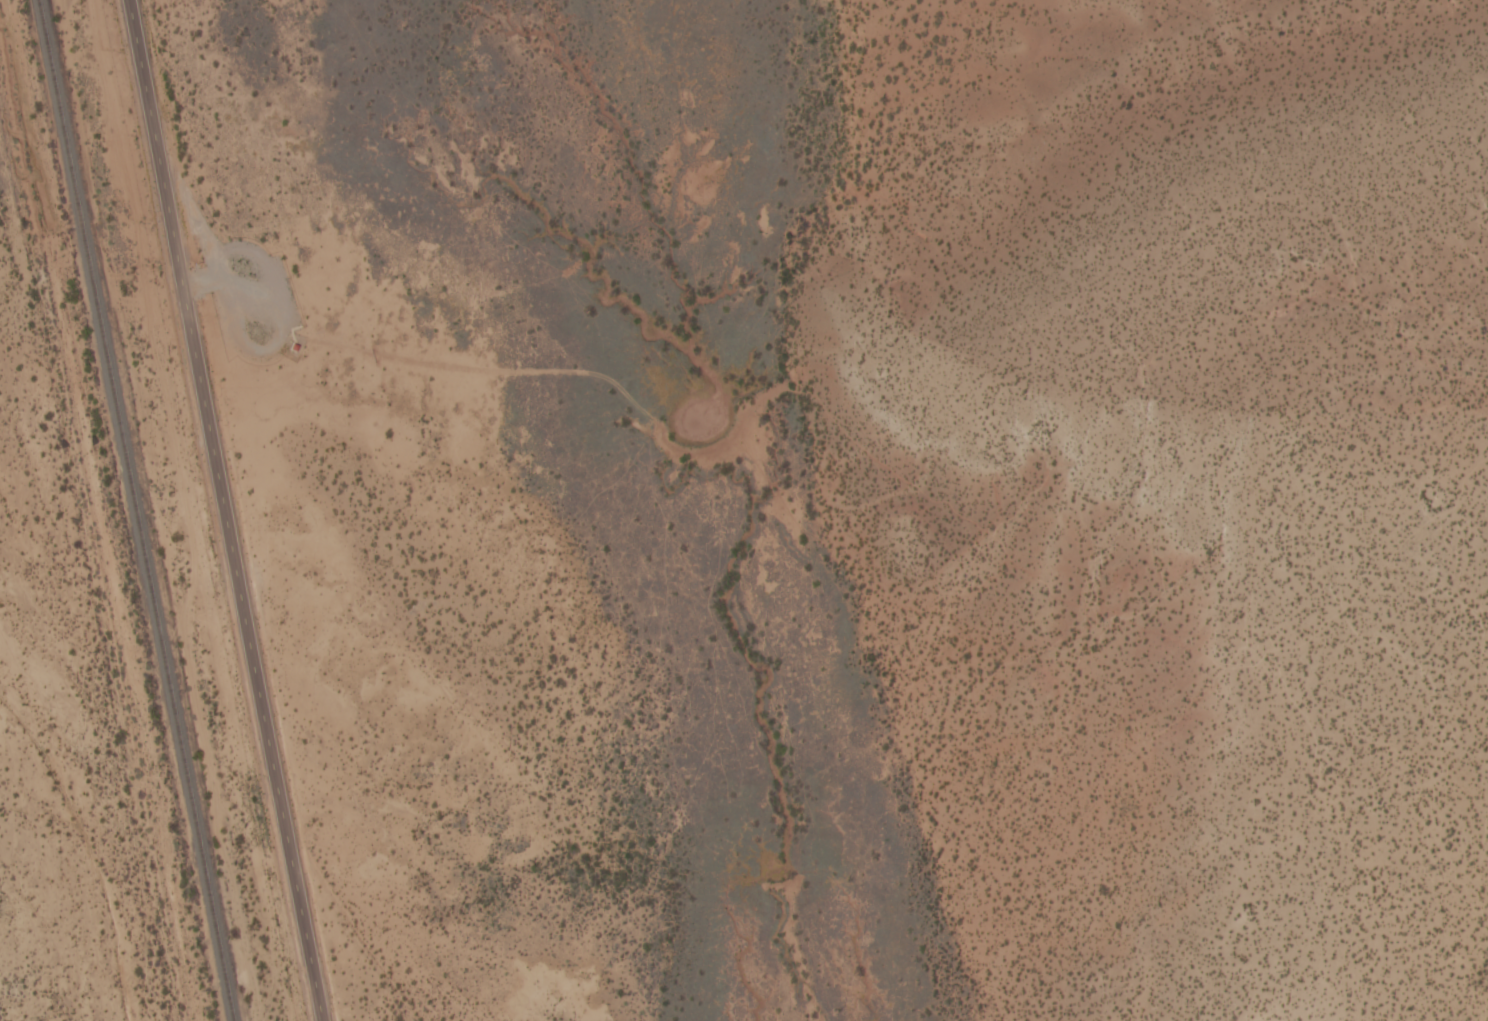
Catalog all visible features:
parking lot: (252, 301)
road: (241, 342)
building: (296, 349)
road: (909, 483)
railway: (134, 510)
road: (221, 510)
road: (62, 911)

